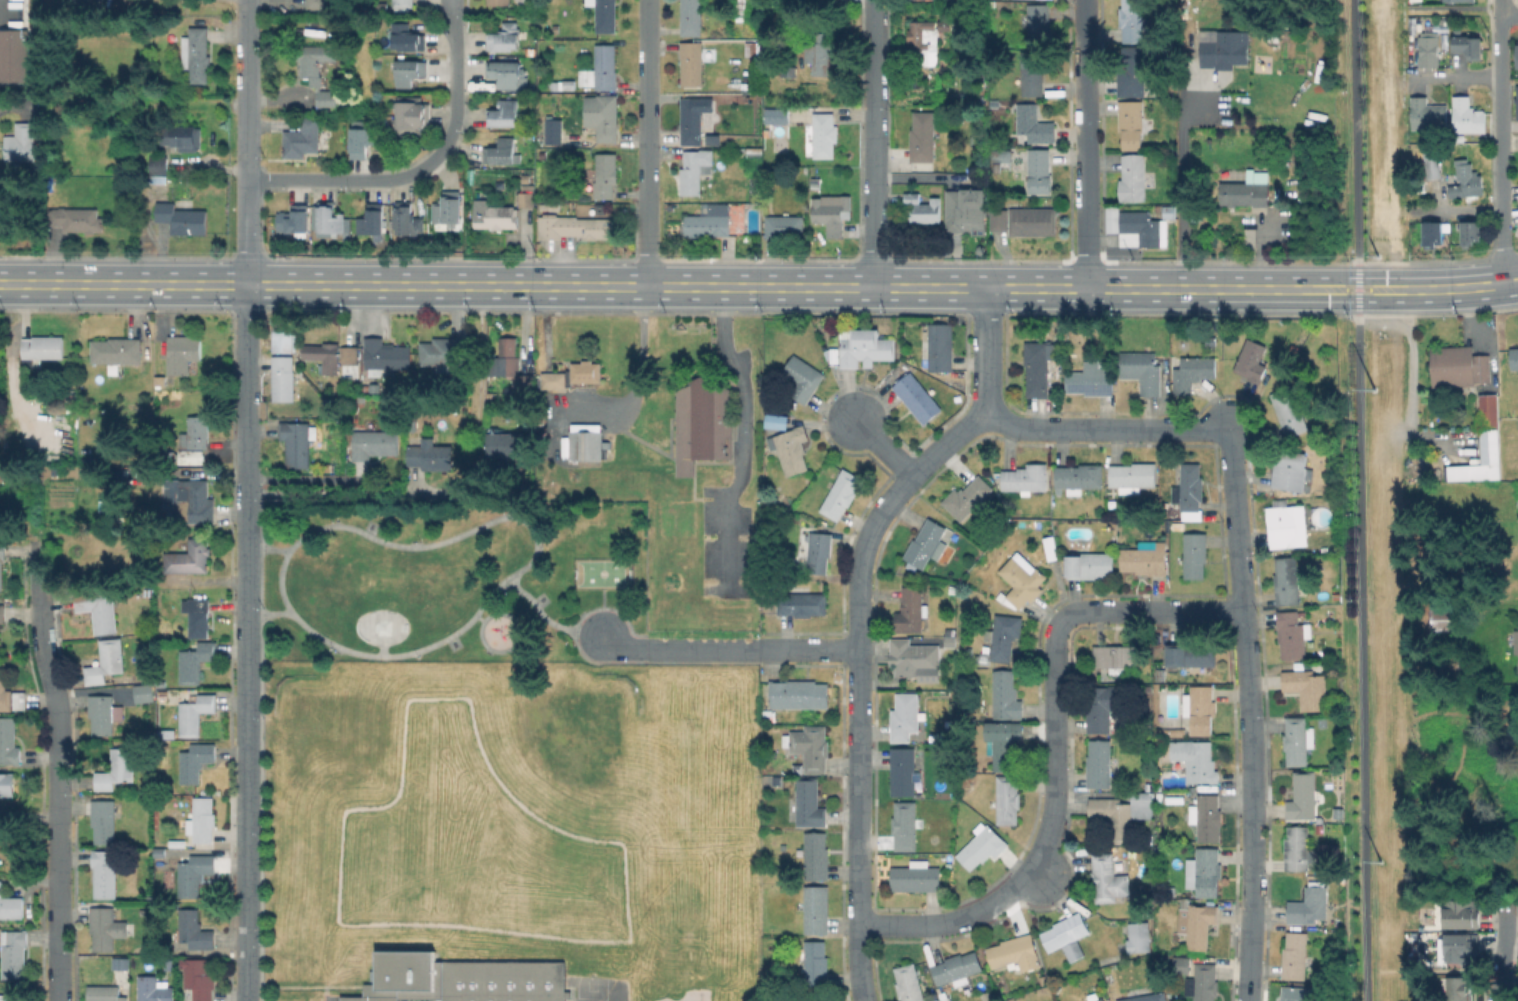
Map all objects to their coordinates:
building: (1411, 0)
building: (825, 1)
building: (1458, 1)
building: (88, 2)
building: (402, 2)
building: (498, 2)
building: (317, 4)
road: (449, 6)
building: (740, 11)
building: (606, 15)
road: (1509, 16)
building: (691, 17)
building: (1132, 20)
building: (1037, 24)
building: (407, 38)
building: (504, 38)
building: (924, 42)
building: (1469, 48)
building: (752, 49)
building: (1430, 51)
building: (821, 53)
building: (1224, 53)
building: (196, 54)
building: (1516, 54)
building: (13, 55)
building: (316, 60)
building: (691, 62)
building: (601, 69)
building: (788, 71)
building: (1132, 71)
building: (410, 72)
building: (1031, 73)
building: (508, 74)
road: (1458, 78)
building: (563, 85)
road: (245, 90)
building: (1212, 95)
building: (326, 99)
building: (1517, 99)
building: (585, 102)
road: (15, 105)
building: (408, 113)
building: (503, 113)
building: (777, 115)
building: (1429, 115)
building: (1468, 116)
building: (607, 119)
building: (692, 121)
building: (1034, 123)
building: (1131, 123)
building: (553, 129)
road: (1355, 131)
building: (824, 135)
building: (182, 137)
building: (922, 137)
building: (302, 138)
building: (21, 142)
building: (360, 142)
road: (1500, 142)
road: (646, 143)
road: (872, 144)
road: (1085, 144)
building: (755, 151)
building: (500, 152)
building: (1002, 156)
building: (158, 164)
building: (1432, 165)
road: (416, 169)
building: (695, 169)
building: (1040, 170)
building: (606, 175)
building: (1133, 177)
building: (1467, 180)
road: (1179, 186)
building: (1247, 189)
building: (527, 195)
building: (447, 207)
building: (924, 208)
building: (966, 211)
building: (1169, 211)
building: (831, 214)
building: (492, 215)
building: (183, 216)
building: (77, 219)
building: (294, 219)
building: (330, 219)
building: (371, 220)
building: (407, 220)
building: (1021, 220)
building: (709, 222)
building: (784, 226)
building: (574, 227)
building: (1139, 229)
road: (245, 232)
building: (1433, 233)
building: (1472, 233)
road: (759, 287)
road: (1357, 288)
building: (283, 337)
building: (941, 346)
building: (41, 348)
road: (986, 348)
building: (867, 350)
building: (116, 351)
building: (445, 352)
building: (350, 354)
building: (182, 355)
building: (385, 355)
building: (507, 357)
building: (1514, 358)
building: (325, 359)
building: (1252, 360)
road: (480, 366)
building: (1459, 366)
building: (1038, 368)
road: (1409, 369)
building: (1143, 370)
building: (420, 371)
building: (1193, 372)
road: (637, 373)
building: (574, 375)
building: (283, 378)
building: (803, 378)
building: (1091, 380)
building: (917, 396)
building: (333, 402)
building: (1290, 411)
building: (773, 421)
building: (1516, 422)
building: (703, 423)
road: (1108, 429)
building: (196, 433)
road: (743, 436)
building: (586, 441)
building: (297, 442)
building: (374, 443)
building: (507, 443)
building: (1483, 446)
building: (791, 449)
road: (884, 449)
building: (430, 455)
building: (192, 458)
building: (1290, 469)
building: (6, 475)
building: (1133, 476)
building: (1079, 477)
road: (302, 478)
building: (1026, 478)
building: (1190, 486)
road: (332, 493)
building: (842, 494)
building: (968, 497)
building: (196, 503)
building: (1287, 524)
building: (928, 544)
building: (1052, 548)
building: (818, 551)
building: (1196, 554)
building: (190, 557)
road: (533, 557)
building: (1146, 559)
building: (2, 560)
building: (1090, 565)
park: (600, 572)
park: (453, 580)
building: (1021, 581)
building: (1290, 581)
road: (280, 583)
building: (151, 592)
building: (803, 602)
building: (99, 609)
building: (912, 609)
building: (2, 613)
building: (1303, 613)
building: (197, 616)
building: (1440, 618)
road: (545, 619)
building: (1293, 634)
building: (1001, 639)
road: (617, 642)
building: (1516, 642)
road: (246, 643)
building: (952, 645)
road: (810, 649)
road: (697, 650)
building: (914, 656)
building: (1192, 656)
building: (1116, 657)
road: (1361, 658)
building: (106, 661)
building: (196, 661)
building: (1162, 674)
road: (860, 678)
building: (1308, 688)
building: (144, 692)
building: (10, 694)
building: (799, 694)
building: (1006, 695)
building: (1104, 706)
building: (1201, 708)
building: (195, 712)
building: (104, 713)
road: (1250, 715)
building: (784, 719)
building: (907, 719)
building: (1174, 731)
building: (167, 734)
building: (937, 739)
building: (1298, 740)
building: (9, 741)
building: (1004, 743)
building: (810, 747)
road: (1056, 751)
building: (1197, 759)
building: (196, 761)
building: (1099, 763)
road: (64, 767)
building: (117, 769)
building: (903, 771)
building: (7, 784)
building: (1195, 787)
building: (1304, 796)
building: (1160, 797)
building: (1008, 799)
building: (1175, 799)
building: (809, 803)
building: (1122, 812)
building: (1208, 817)
building: (202, 820)
building: (104, 821)
building: (905, 825)
building: (982, 845)
building: (1297, 847)
building: (169, 852)
building: (817, 856)
building: (1205, 871)
building: (194, 873)
building: (105, 874)
building: (916, 877)
building: (1108, 879)
road: (1044, 881)
building: (1167, 891)
building: (1310, 904)
building: (10, 905)
building: (817, 909)
building: (1463, 914)
building: (1198, 923)
building: (103, 928)
building: (194, 930)
building: (1067, 935)
building: (1140, 937)
building: (1460, 948)
road: (1502, 950)
building: (14, 952)
building: (1016, 952)
building: (1296, 955)
building: (1165, 958)
building: (120, 964)
building: (816, 964)
building: (957, 968)
building: (200, 978)
building: (459, 979)
building: (1206, 981)
building: (909, 982)
building: (154, 989)
building: (1457, 989)
building: (105, 993)
building: (1300, 993)
building: (6, 997)
building: (987, 997)
building: (1148, 997)
building: (814, 998)
building: (1100, 999)
building: (950, 1000)

